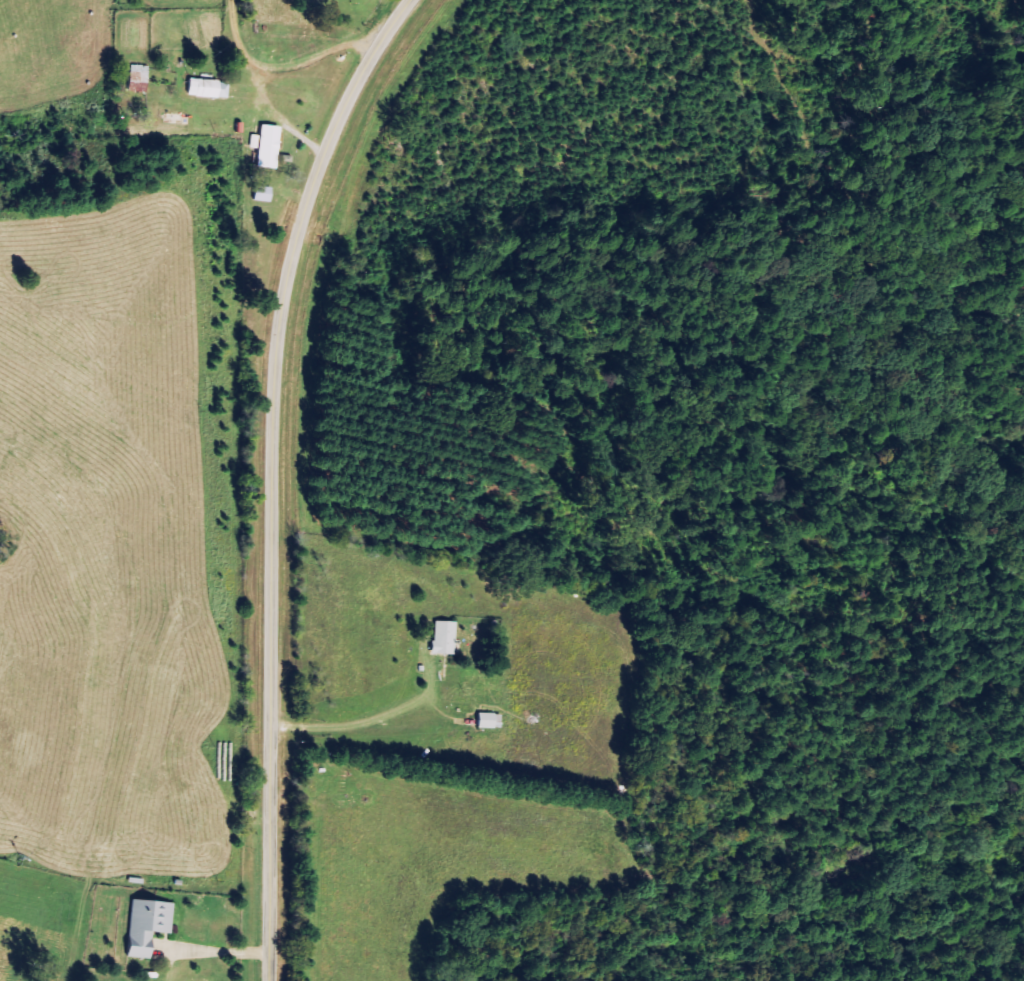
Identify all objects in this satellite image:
building: (138, 78)
building: (209, 88)
building: (254, 141)
building: (269, 146)
building: (264, 193)
road: (275, 475)
building: (444, 637)
building: (487, 720)
building: (142, 926)

